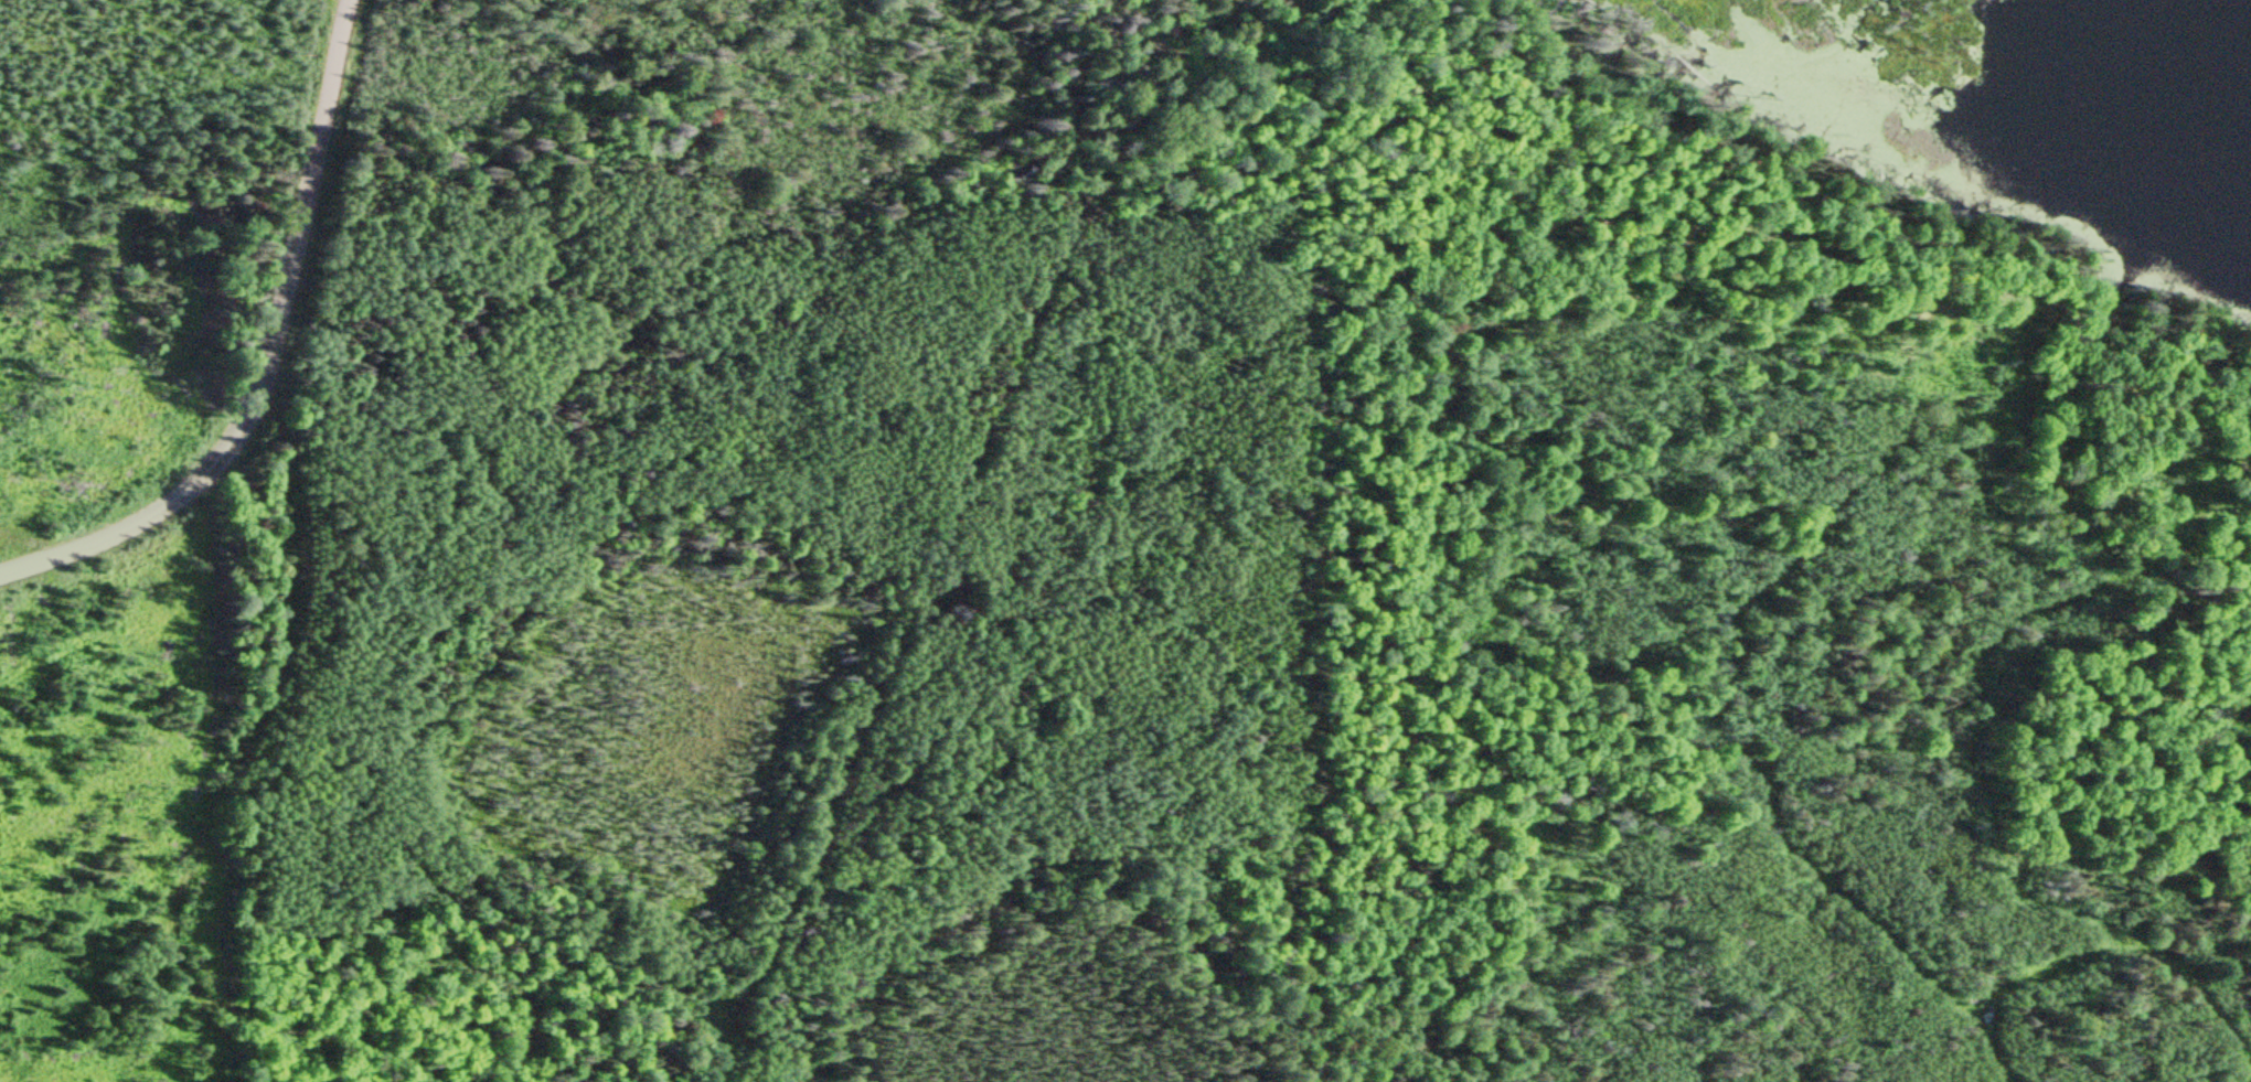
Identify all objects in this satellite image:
road: (270, 357)

